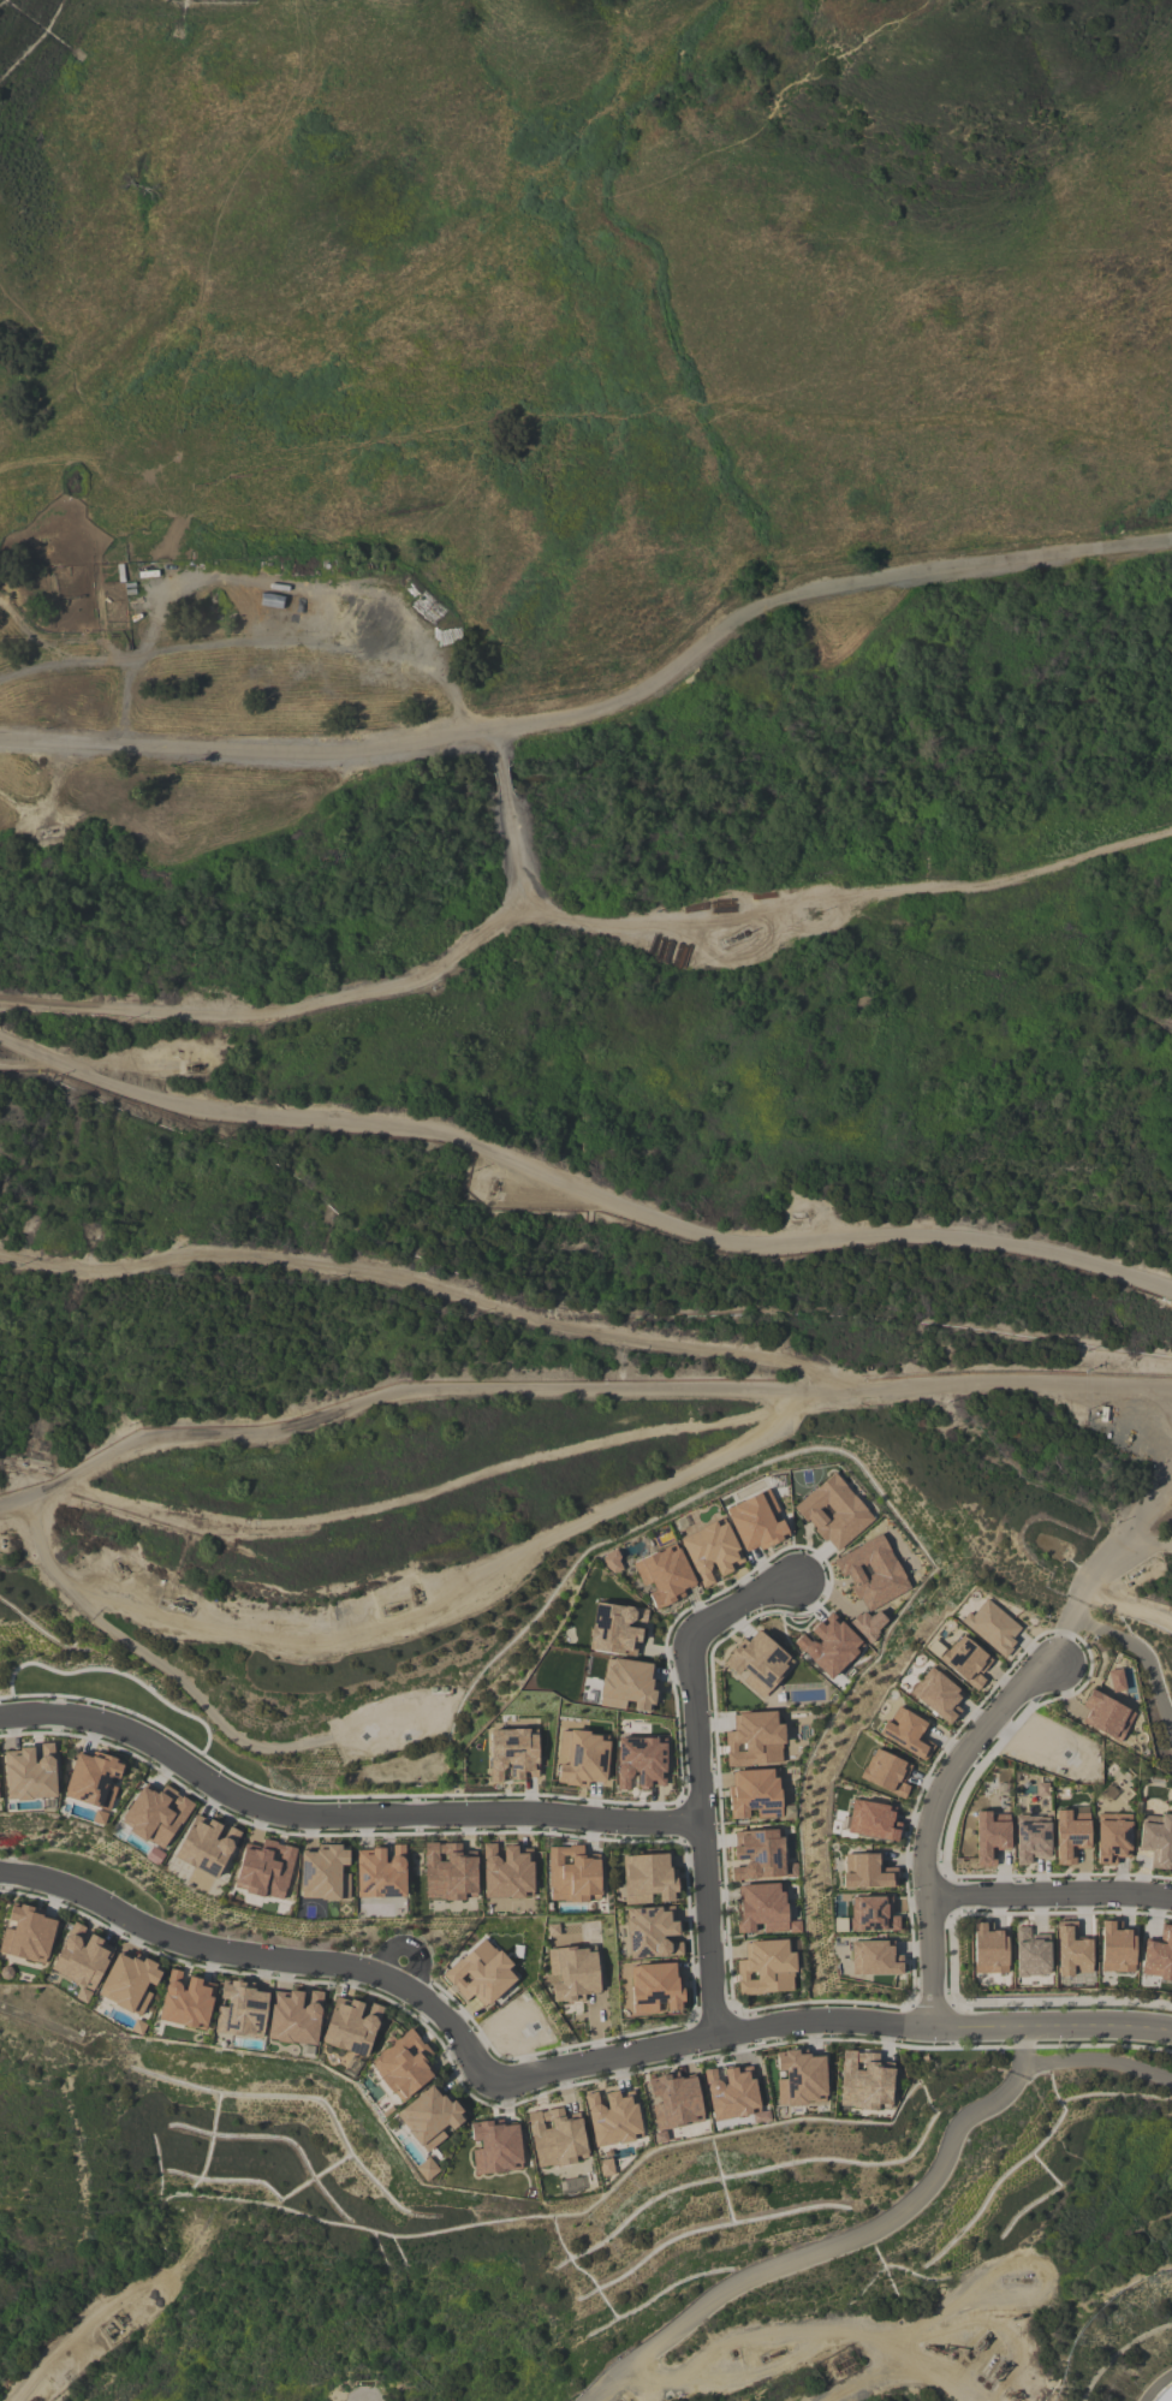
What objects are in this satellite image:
road: (32, 637)
road: (313, 643)
road: (100, 660)
road: (602, 711)
petroleum well: (734, 937)
petroleum well: (194, 1068)
road: (583, 1190)
road: (415, 1288)
road: (573, 1391)
building: (833, 1512)
building: (756, 1521)
road: (1137, 1550)
building: (710, 1552)
road: (1106, 1553)
building: (612, 1562)
building: (871, 1573)
building: (664, 1575)
petroleum well: (415, 1592)
petroleum well: (175, 1604)
petroleum well: (393, 1606)
building: (868, 1624)
building: (990, 1627)
building: (615, 1628)
building: (828, 1645)
building: (965, 1662)
building: (757, 1663)
building: (1116, 1680)
building: (627, 1684)
building: (938, 1695)
building: (1105, 1716)
building: (905, 1733)
building: (755, 1739)
building: (512, 1754)
building: (581, 1758)
building: (639, 1761)
building: (30, 1772)
building: (886, 1772)
road: (695, 1779)
building: (91, 1783)
building: (755, 1794)
building: (155, 1814)
road: (335, 1817)
road: (929, 1818)
building: (871, 1820)
building: (1070, 1834)
building: (990, 1837)
building: (1112, 1837)
building: (1031, 1838)
building: (1156, 1840)
building: (206, 1846)
building: (758, 1854)
building: (264, 1870)
building: (380, 1872)
building: (447, 1872)
building: (505, 1872)
building: (865, 1872)
building: (323, 1873)
building: (572, 1873)
building: (648, 1879)
road: (1049, 1891)
building: (762, 1909)
building: (871, 1914)
building: (652, 1933)
building: (26, 1935)
building: (1116, 1948)
building: (988, 1949)
building: (1071, 1950)
building: (1030, 1953)
building: (1158, 1955)
building: (873, 1957)
building: (81, 1960)
building: (766, 1967)
building: (572, 1972)
building: (480, 1973)
building: (127, 1983)
building: (655, 1989)
building: (186, 2001)
building: (239, 2010)
building: (295, 2016)
road: (1067, 2023)
building: (350, 2026)
road: (475, 2049)
road: (1099, 2061)
building: (403, 2064)
building: (799, 2079)
building: (864, 2081)
building: (731, 2092)
building: (673, 2103)
building: (428, 2117)
building: (612, 2117)
building: (555, 2138)
building: (495, 2147)
building: (606, 2167)
building: (426, 2169)
road: (847, 2243)
road: (83, 2329)
petroleum well: (981, 2342)
petroleum well: (934, 2347)
petroleum well: (771, 2352)
petroleum well: (990, 2361)
road: (898, 2369)
building: (1159, 2389)
storage tank: (1159, 2389)
petroleum well: (1013, 2396)

